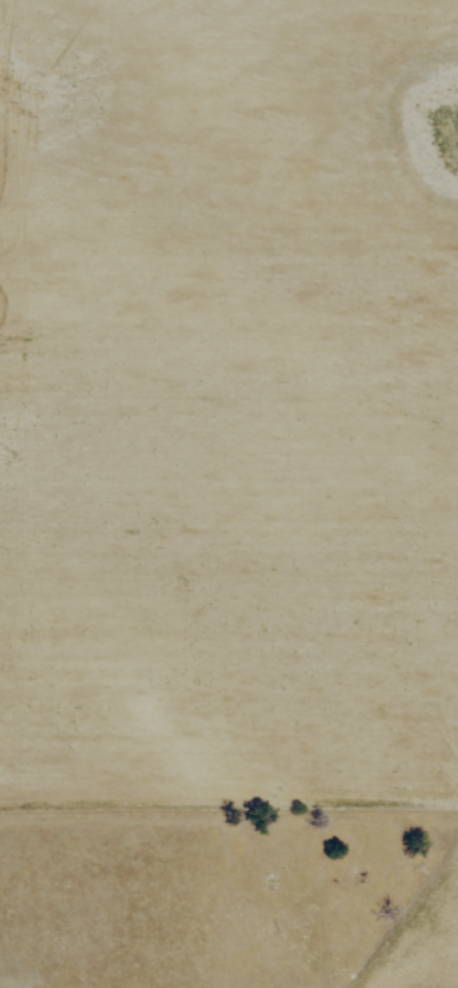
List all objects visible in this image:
crop: (229, 401)
crop: (426, 942)

